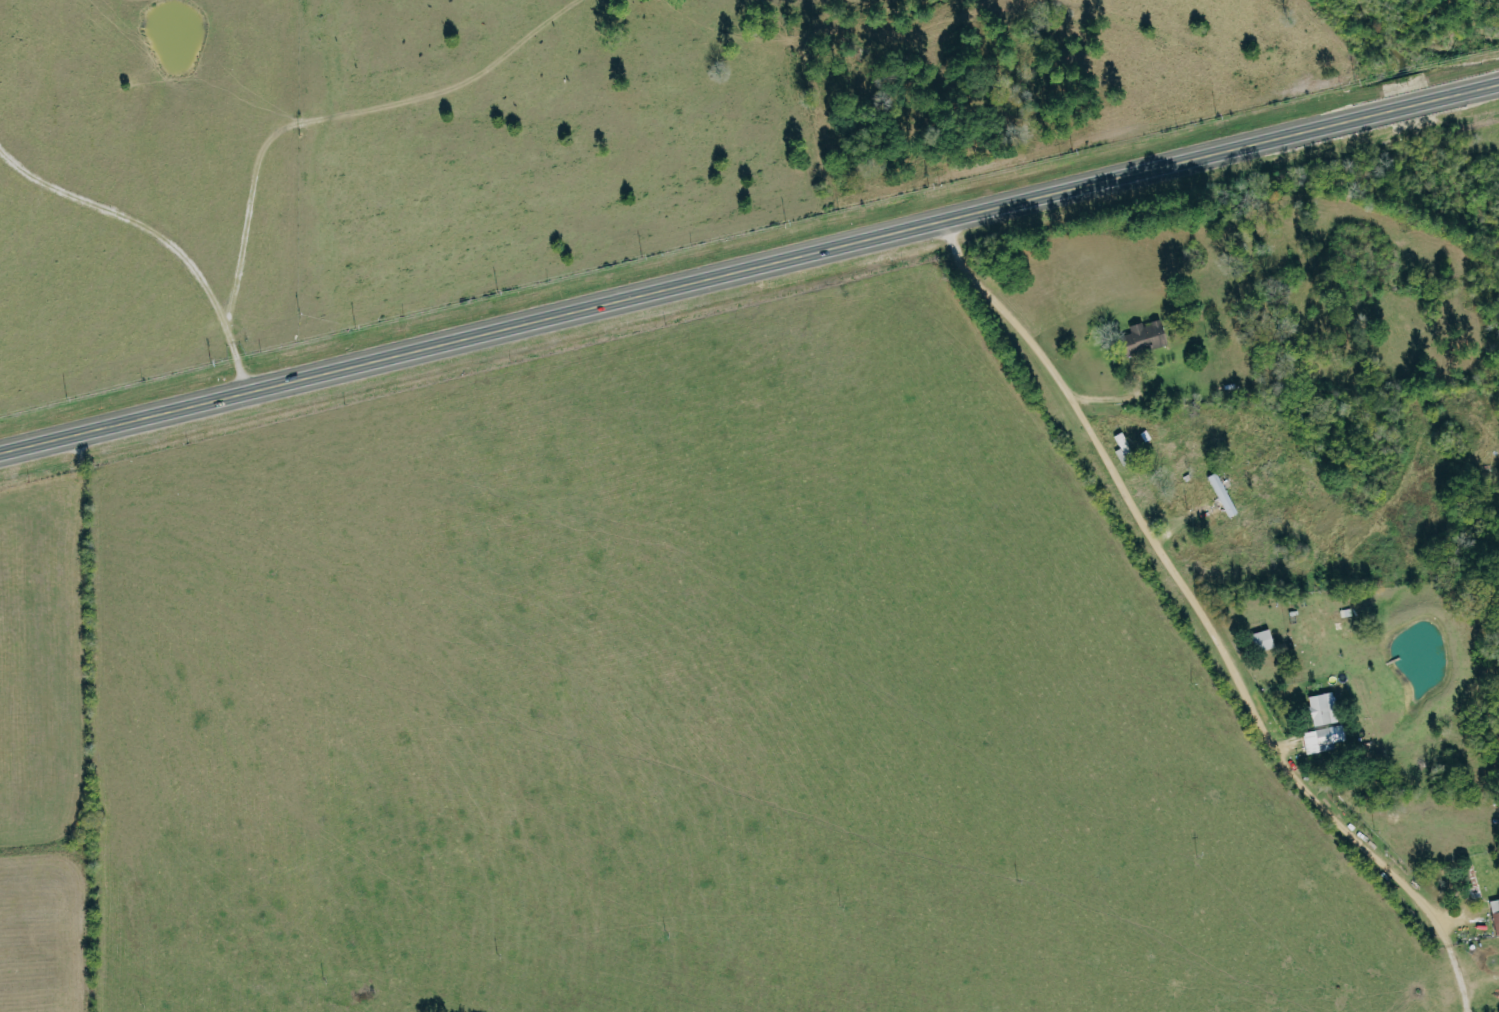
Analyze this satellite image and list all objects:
road: (749, 269)
building: (1143, 338)
road: (1118, 399)
road: (1186, 581)
building: (1262, 640)
building: (1322, 709)
building: (1324, 739)
building: (1495, 914)
road: (1460, 967)

